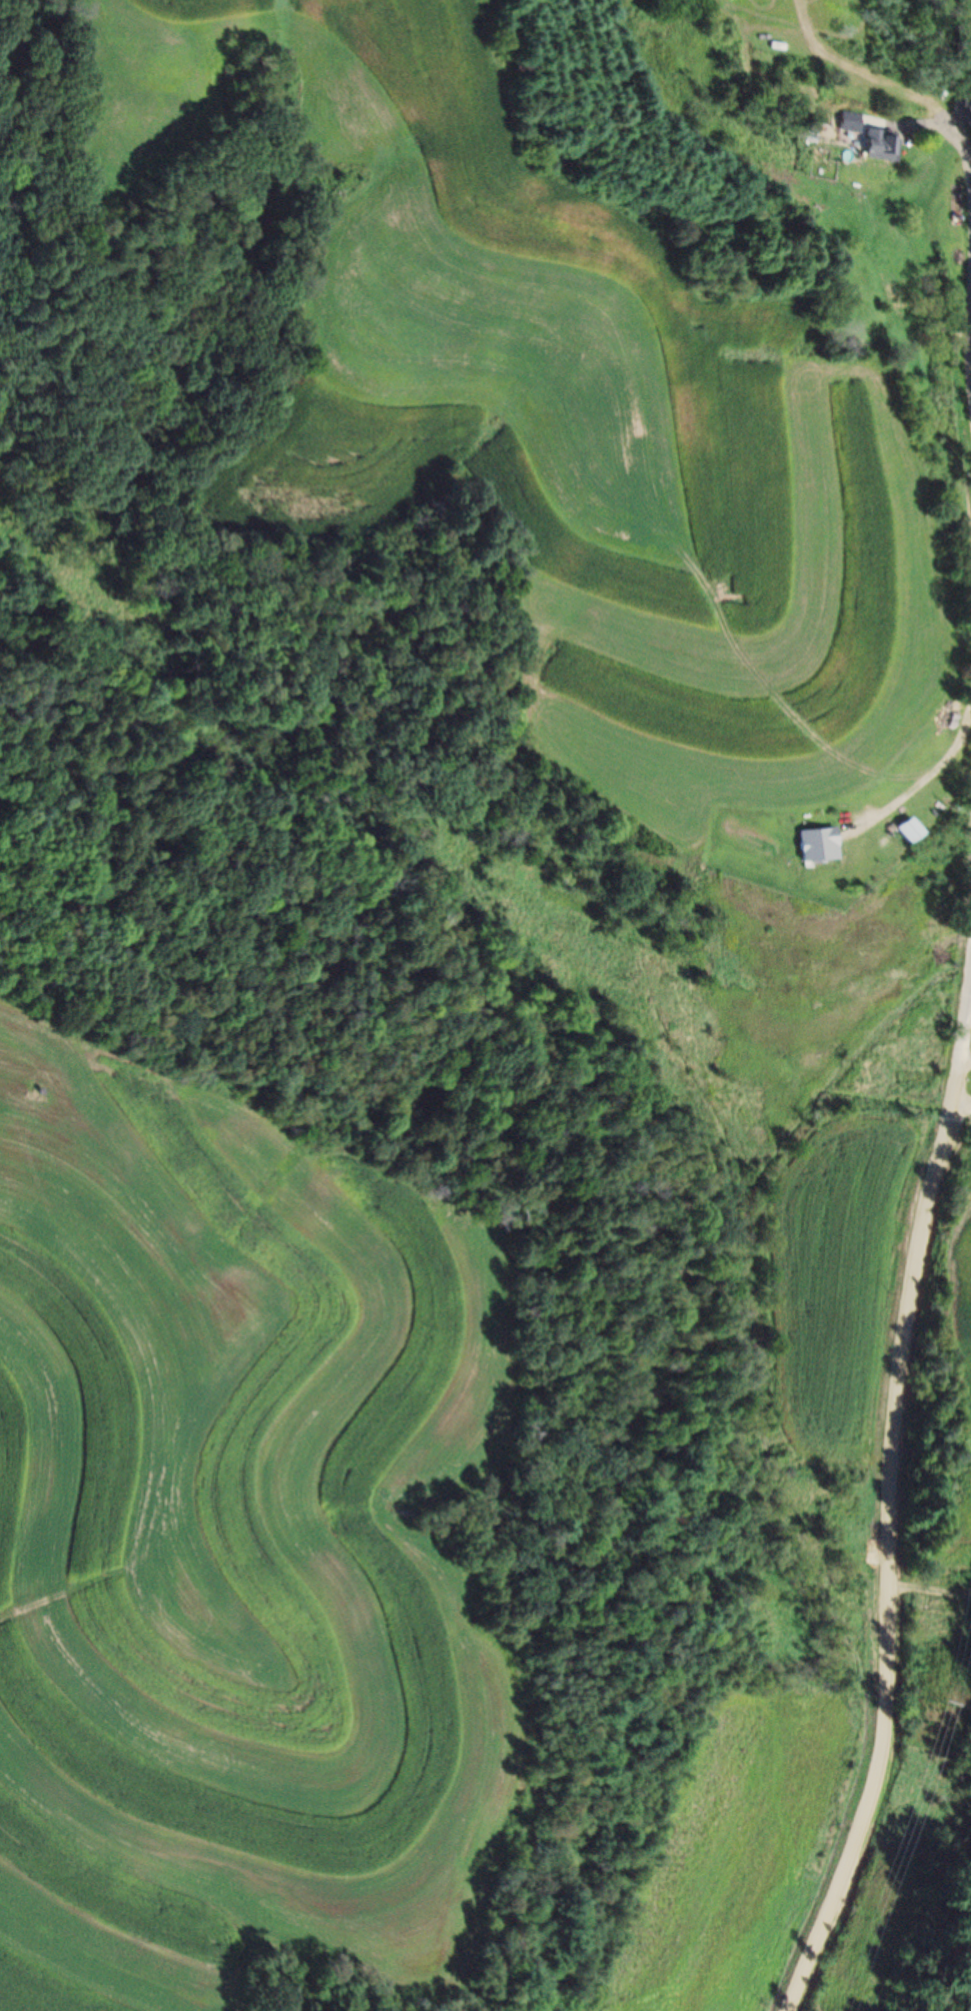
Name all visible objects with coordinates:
building: (809, 122)
building: (876, 144)
road: (963, 147)
building: (902, 829)
building: (815, 844)
road: (960, 1114)
road: (890, 1483)

